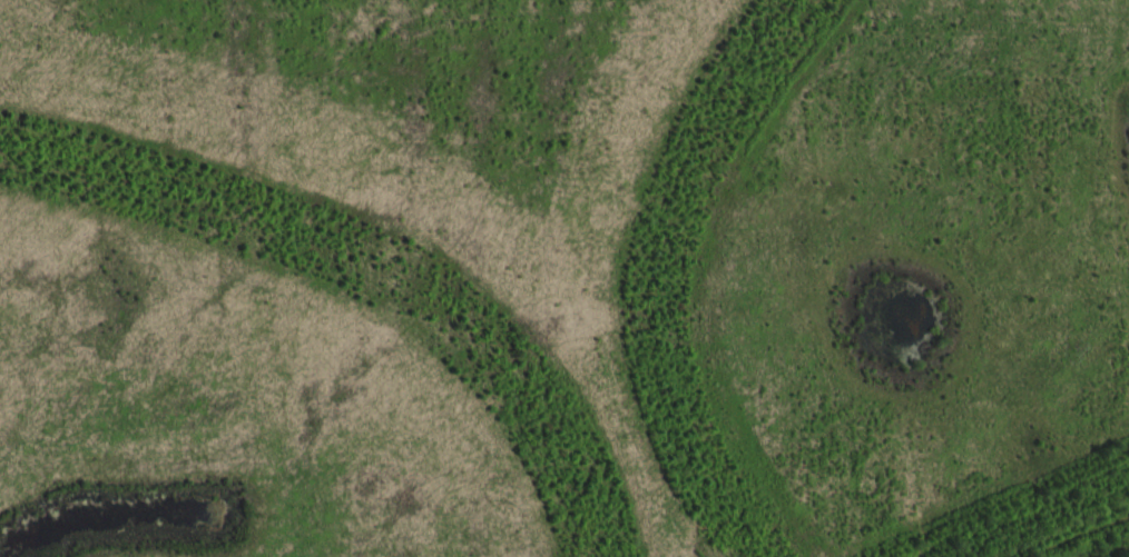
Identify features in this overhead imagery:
road: (1074, 535)

